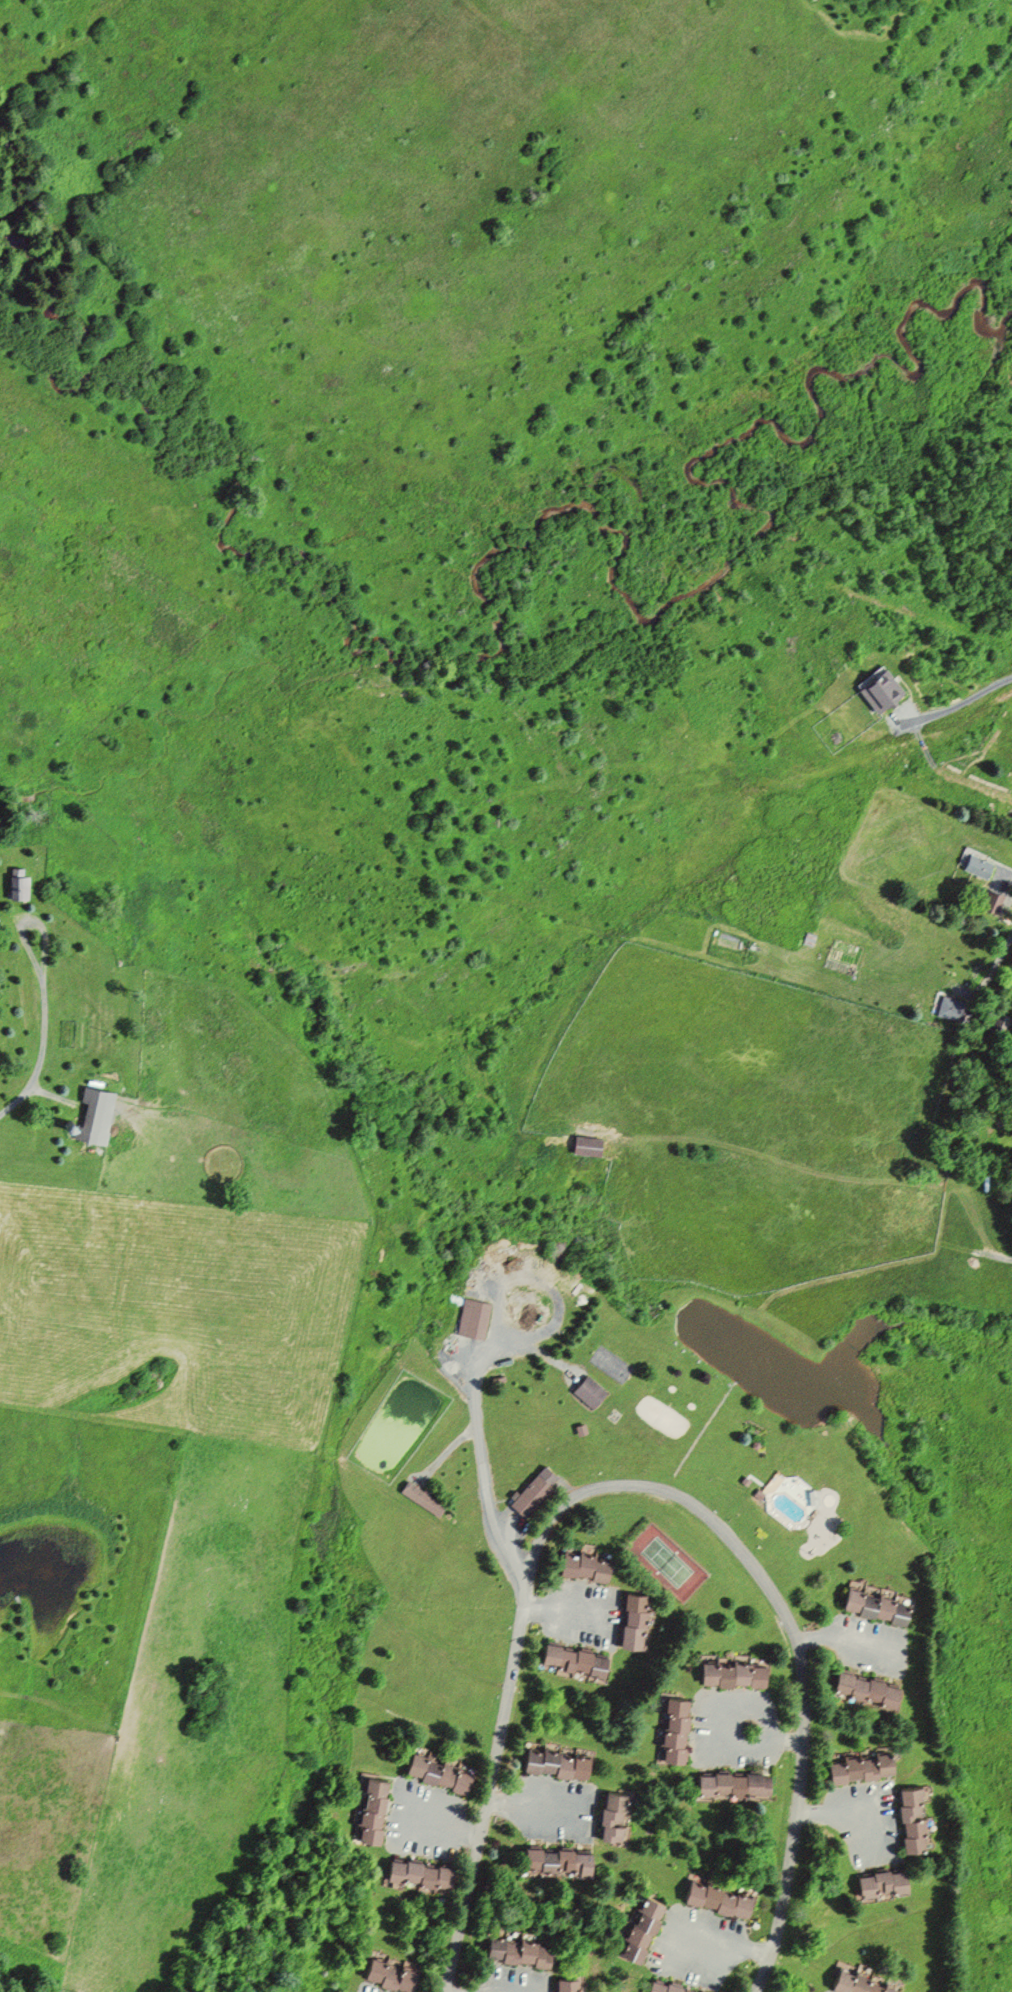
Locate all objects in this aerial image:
building: (1007, 804)
building: (16, 883)
building: (988, 901)
road: (991, 970)
building: (950, 1008)
road: (43, 1037)
building: (94, 1117)
building: (584, 1145)
road: (546, 1286)
building: (472, 1319)
building: (587, 1391)
road: (450, 1454)
road: (483, 1467)
road: (641, 1487)
building: (532, 1490)
building: (421, 1498)
building: (581, 1563)
building: (871, 1603)
road: (561, 1617)
building: (634, 1621)
road: (845, 1647)
building: (570, 1659)
building: (729, 1673)
building: (862, 1689)
building: (670, 1729)
road: (786, 1739)
building: (554, 1762)
building: (856, 1767)
building: (433, 1772)
building: (730, 1784)
road: (530, 1809)
building: (369, 1810)
road: (838, 1817)
building: (913, 1817)
building: (613, 1818)
road: (440, 1826)
building: (554, 1862)
building: (415, 1876)
building: (877, 1884)
building: (713, 1898)
building: (638, 1930)
road: (720, 1944)
building: (513, 1950)
building: (389, 1973)
building: (853, 1983)
building: (564, 1985)
building: (661, 1987)

